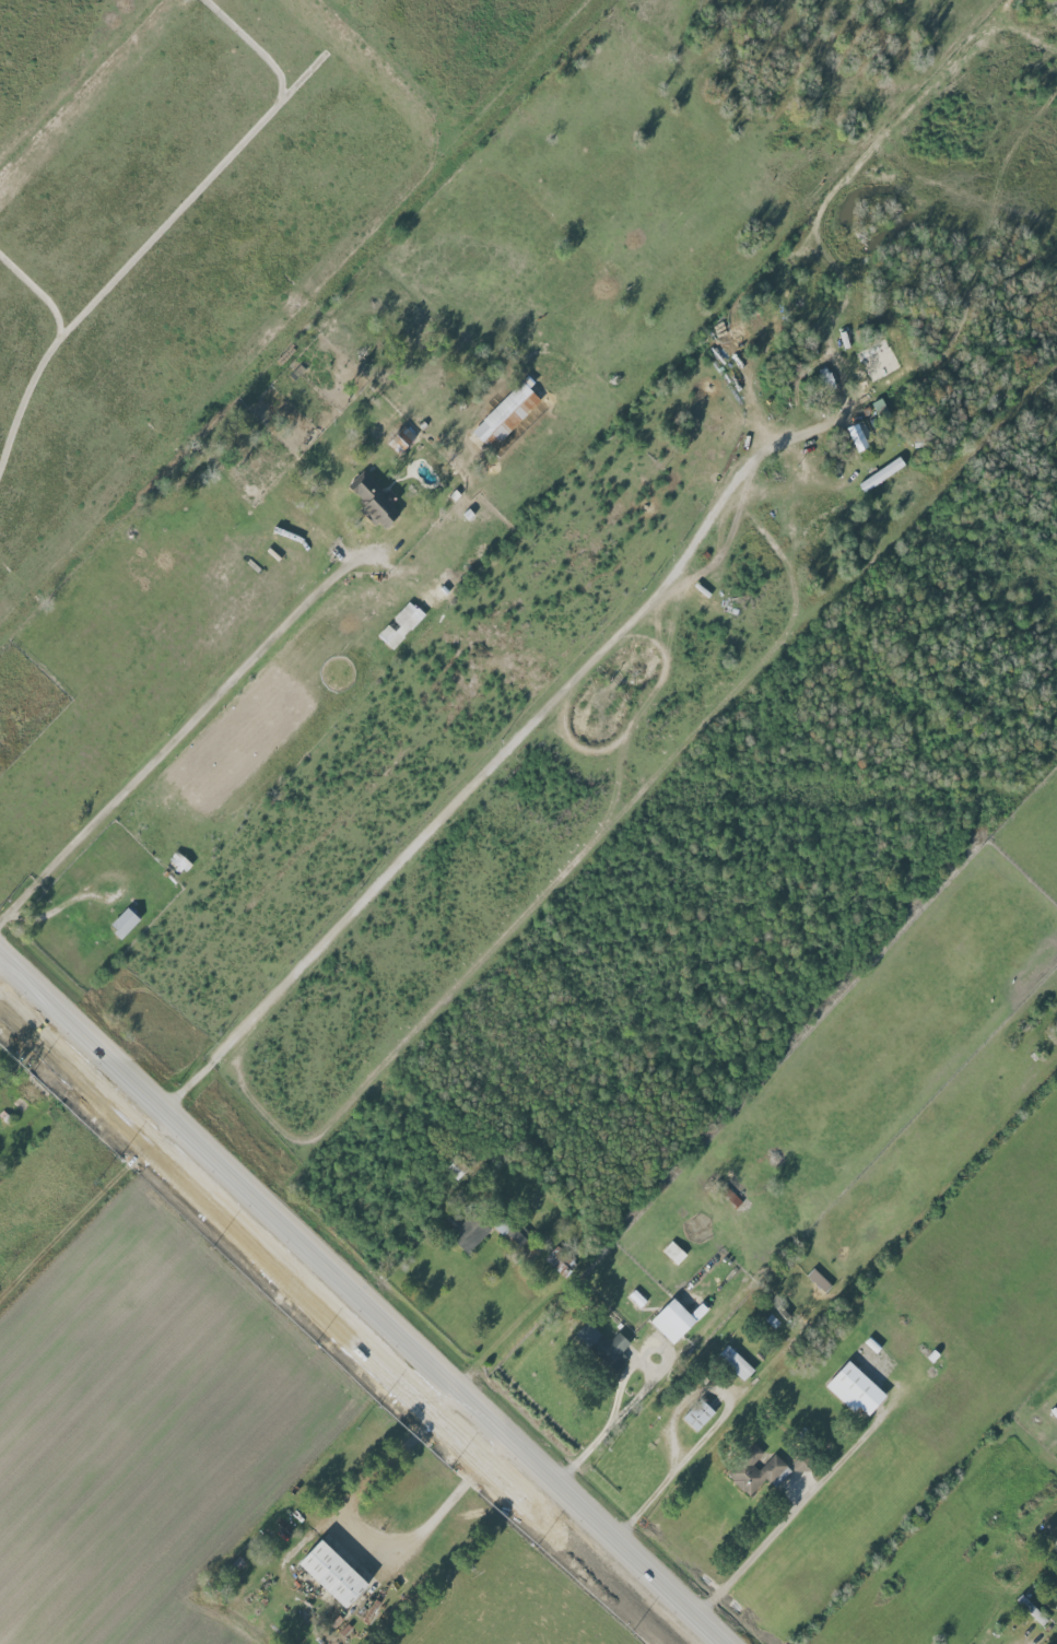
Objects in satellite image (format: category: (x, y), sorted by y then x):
building: (507, 413)
building: (401, 439)
building: (881, 474)
building: (374, 500)
building: (400, 625)
road: (200, 705)
road: (496, 759)
building: (124, 923)
road: (0, 958)
road: (87, 1219)
building: (471, 1230)
building: (514, 1232)
building: (636, 1299)
road: (361, 1302)
building: (676, 1319)
building: (604, 1346)
road: (685, 1362)
building: (736, 1362)
building: (855, 1388)
building: (697, 1414)
road: (716, 1428)
building: (756, 1471)
road: (376, 1483)
road: (779, 1537)
building: (1056, 1541)
road: (460, 1558)
building: (332, 1573)
building: (1032, 1610)
road: (1019, 1641)

